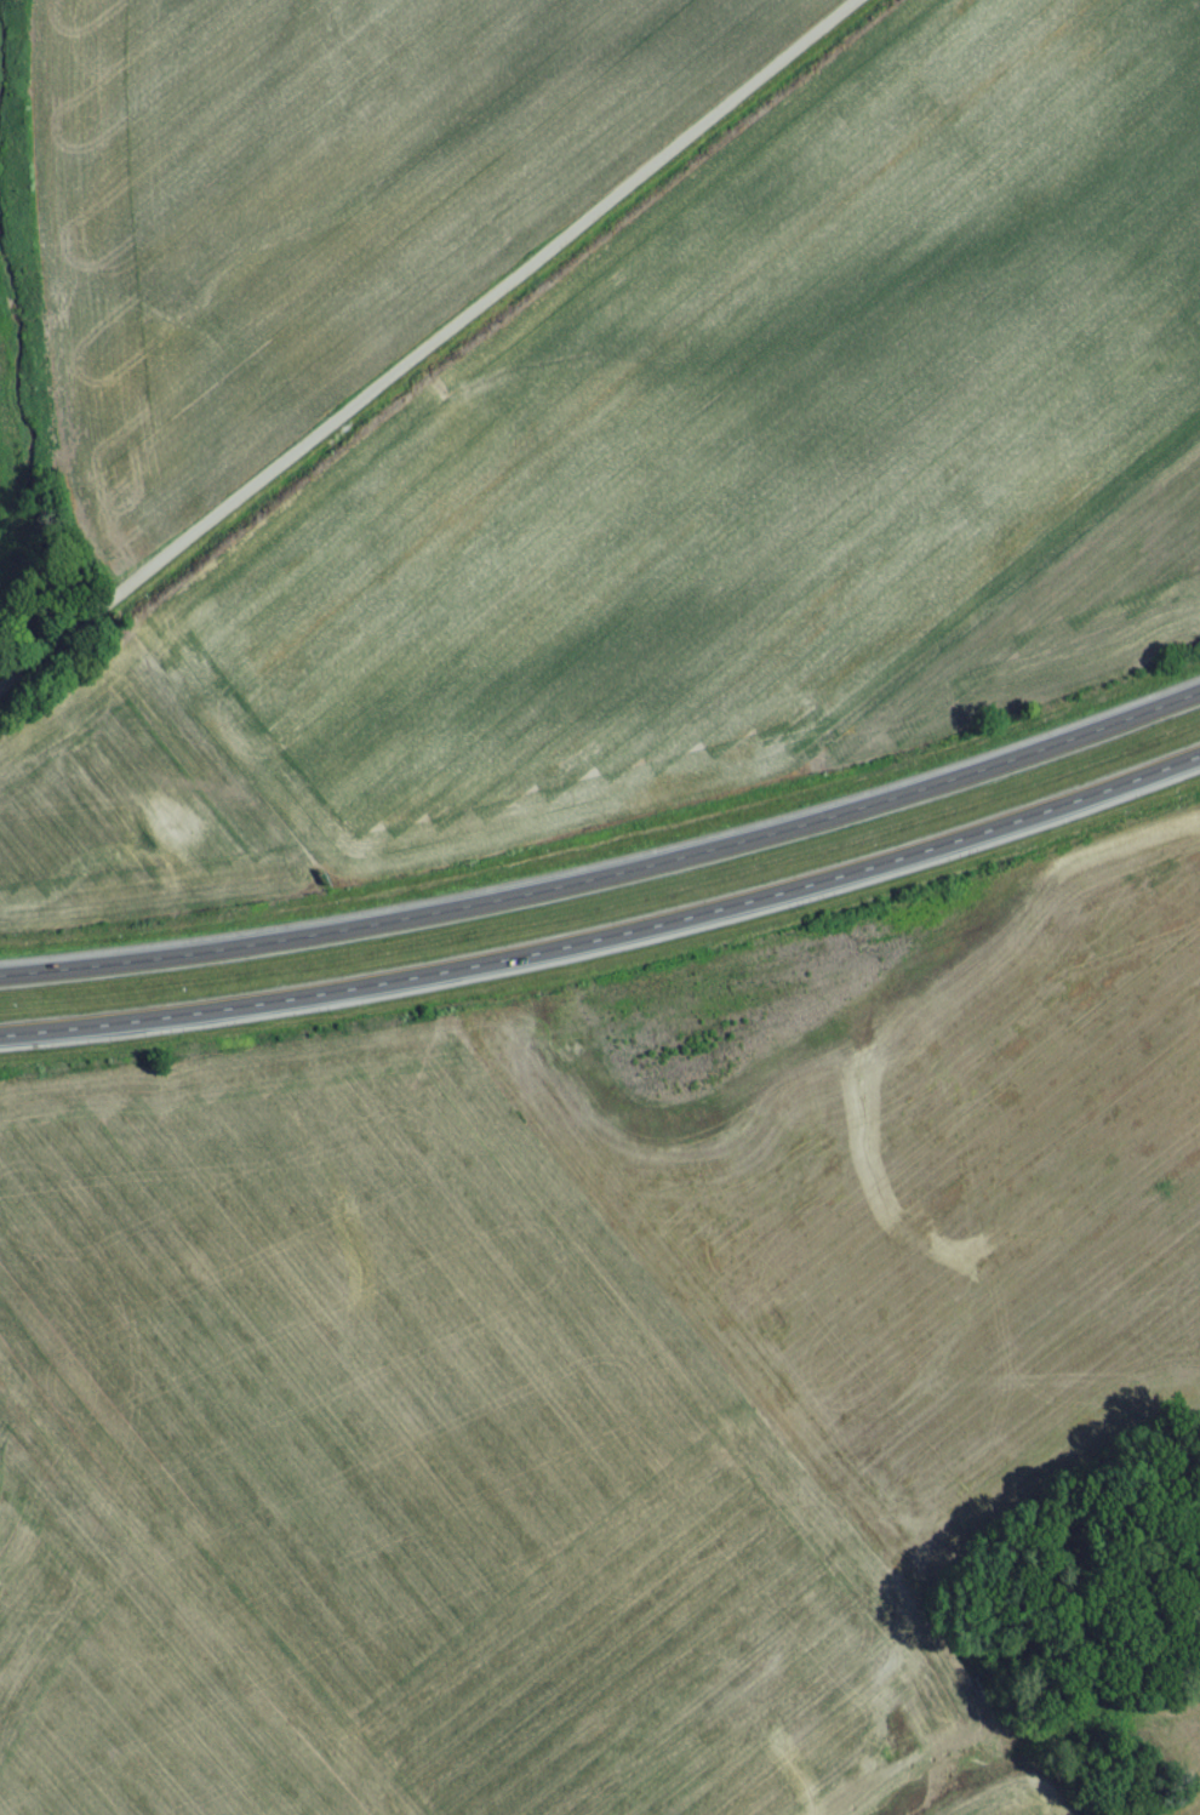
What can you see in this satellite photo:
road: (440, 350)
road: (607, 861)
road: (610, 932)

